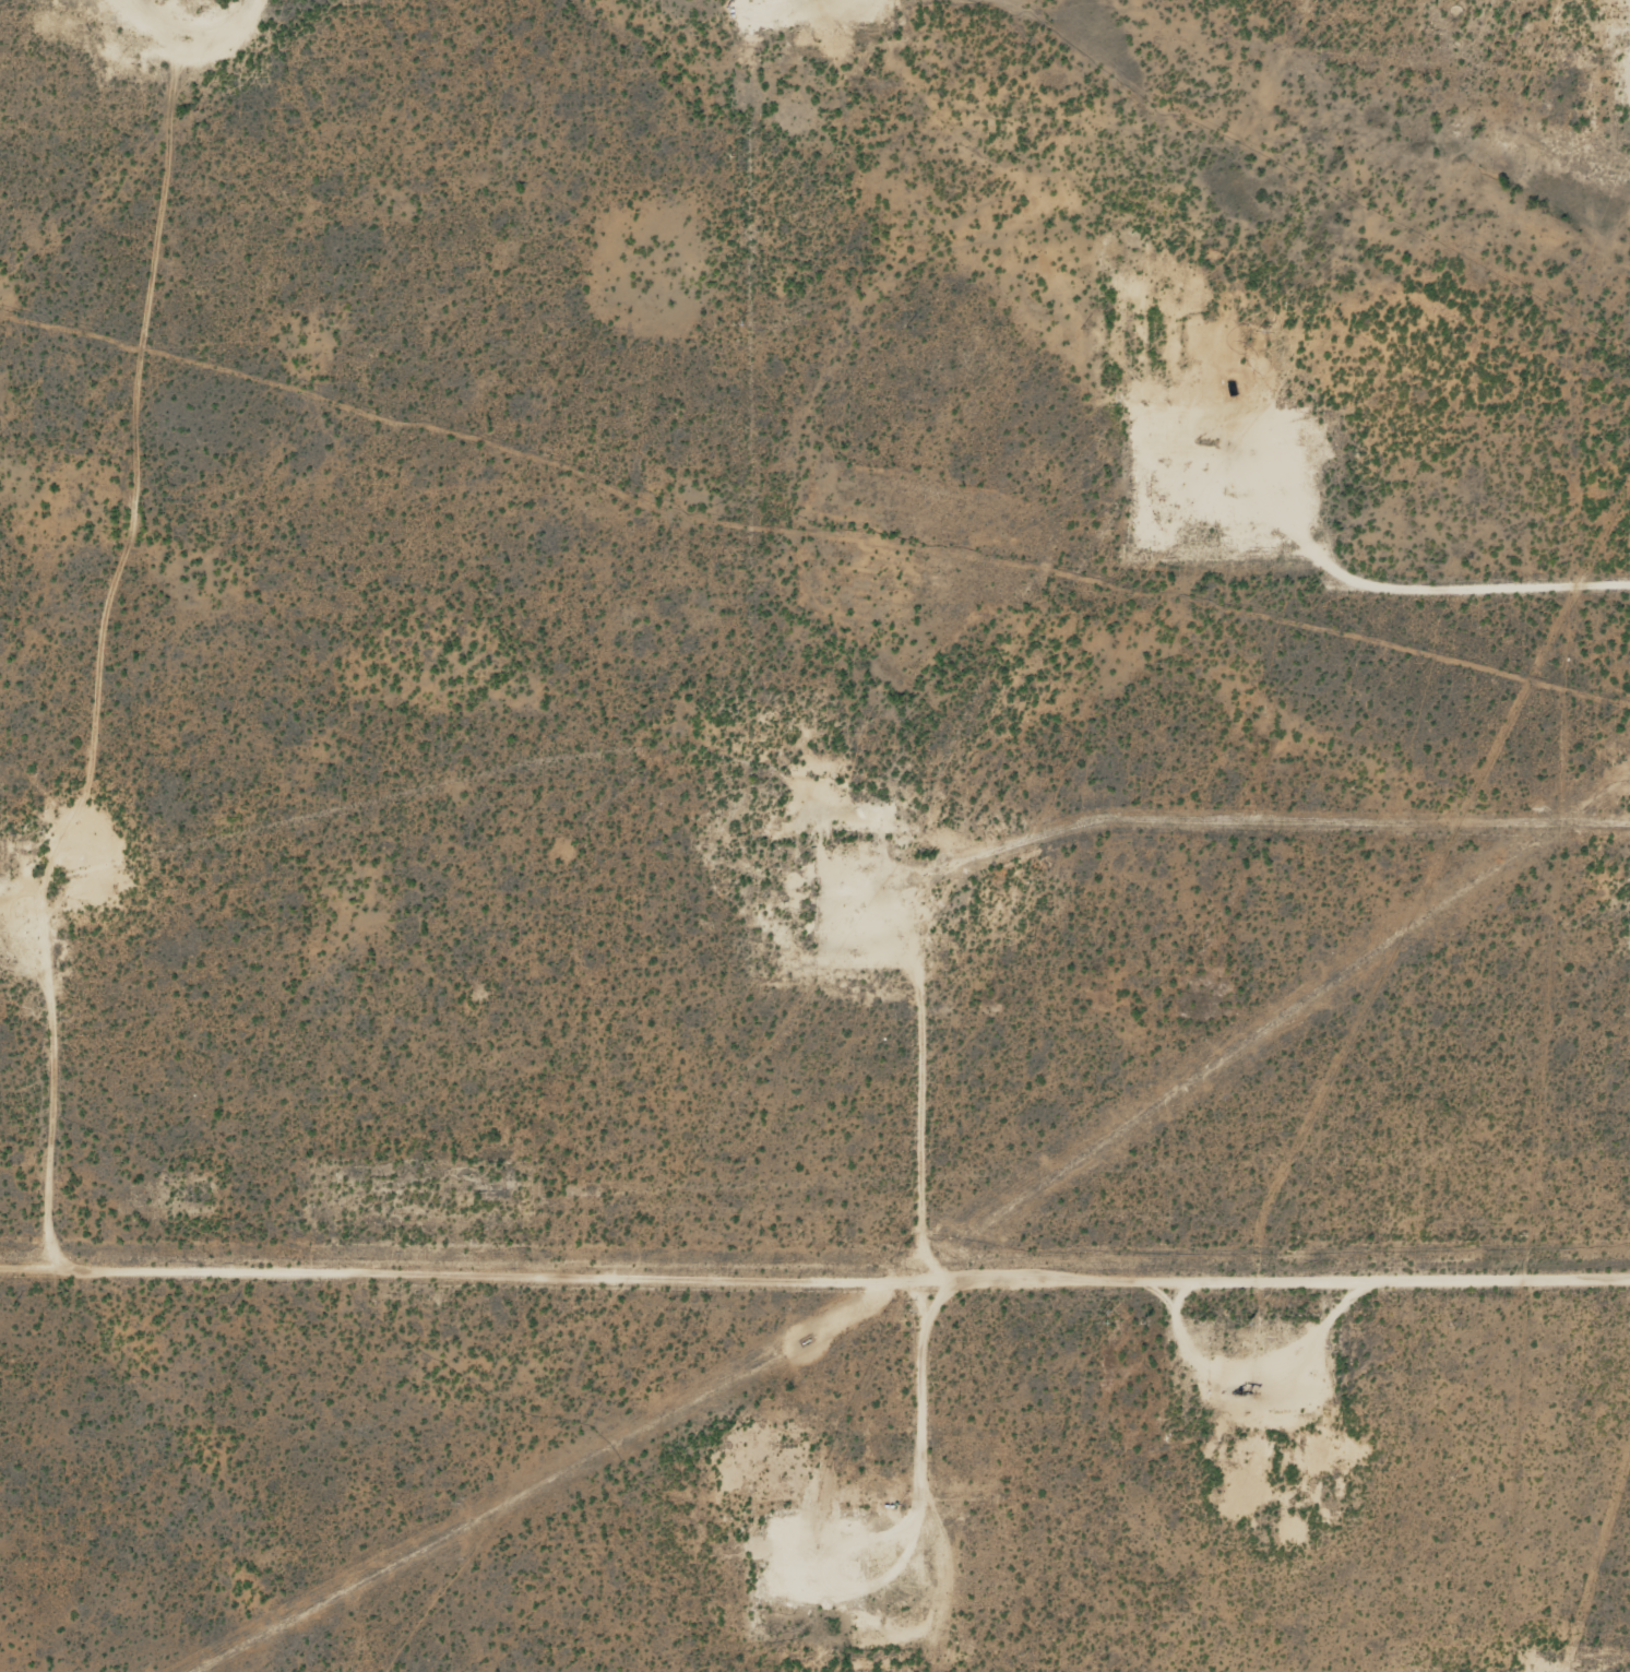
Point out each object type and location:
road: (864, 13)
road: (135, 616)
road: (814, 1231)

